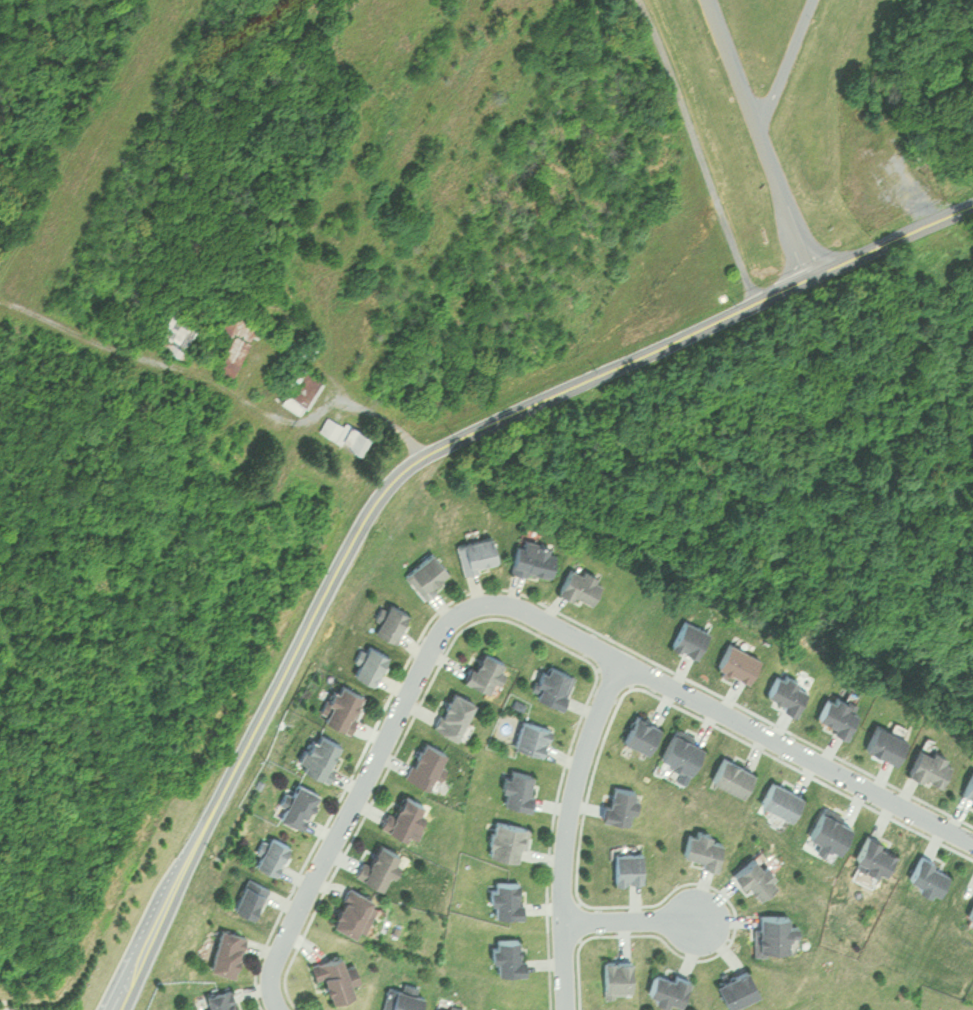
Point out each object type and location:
road: (785, 63)
road: (762, 137)
road: (700, 150)
building: (180, 339)
building: (230, 352)
building: (300, 387)
road: (305, 415)
building: (343, 433)
road: (410, 464)
building: (476, 553)
building: (533, 556)
building: (426, 574)
building: (579, 584)
road: (518, 608)
building: (390, 621)
building: (689, 637)
building: (738, 661)
building: (370, 664)
building: (483, 669)
building: (553, 684)
building: (785, 691)
building: (342, 707)
building: (452, 712)
building: (836, 713)
building: (640, 732)
building: (530, 736)
building: (885, 742)
building: (682, 751)
building: (319, 753)
building: (425, 763)
building: (929, 766)
building: (732, 775)
building: (969, 787)
building: (517, 788)
building: (780, 799)
building: (297, 804)
building: (619, 804)
building: (404, 814)
building: (829, 828)
road: (567, 830)
building: (507, 839)
building: (702, 848)
building: (874, 853)
building: (272, 856)
building: (377, 863)
building: (628, 866)
building: (927, 874)
building: (755, 875)
building: (505, 897)
building: (250, 899)
building: (353, 911)
building: (970, 913)
road: (630, 920)
building: (771, 931)
building: (227, 952)
building: (506, 954)
building: (333, 975)
building: (618, 978)
building: (734, 986)
building: (667, 987)
building: (403, 1000)
building: (220, 1001)
building: (442, 1008)

